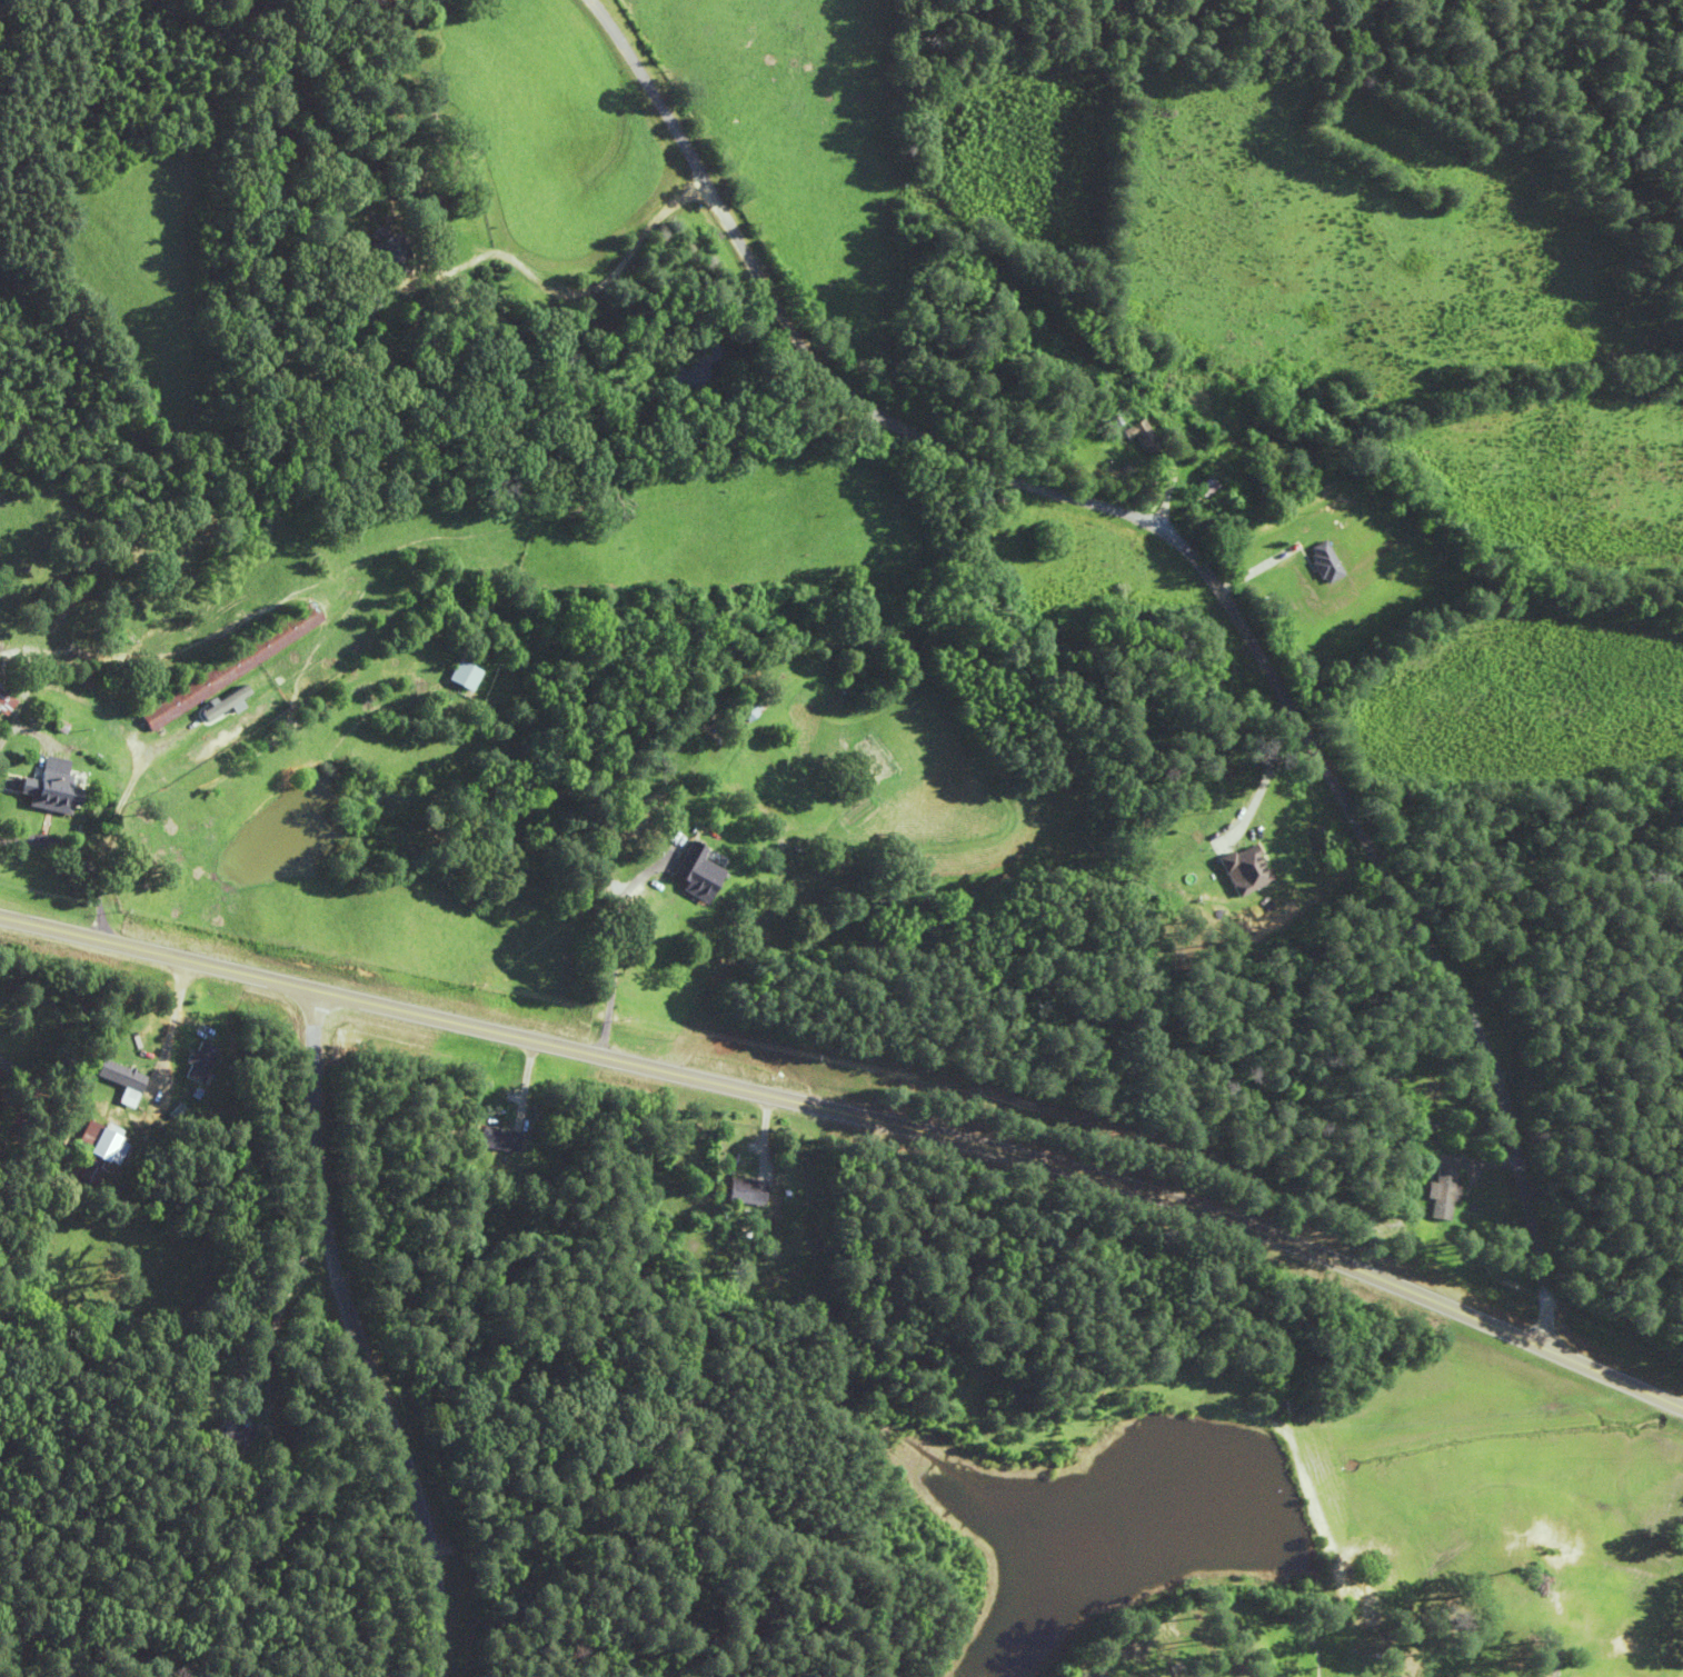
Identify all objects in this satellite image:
building: (380, 257)
building: (269, 358)
building: (1206, 487)
building: (1324, 560)
road: (1198, 570)
building: (227, 666)
building: (464, 676)
building: (289, 688)
building: (6, 700)
building: (756, 712)
building: (48, 791)
building: (1242, 869)
building: (698, 875)
building: (117, 1080)
building: (1377, 1082)
road: (862, 1095)
building: (494, 1139)
building: (87, 1150)
building: (740, 1190)
building: (1438, 1192)
road: (371, 1335)
building: (229, 1431)
road: (269, 1464)

